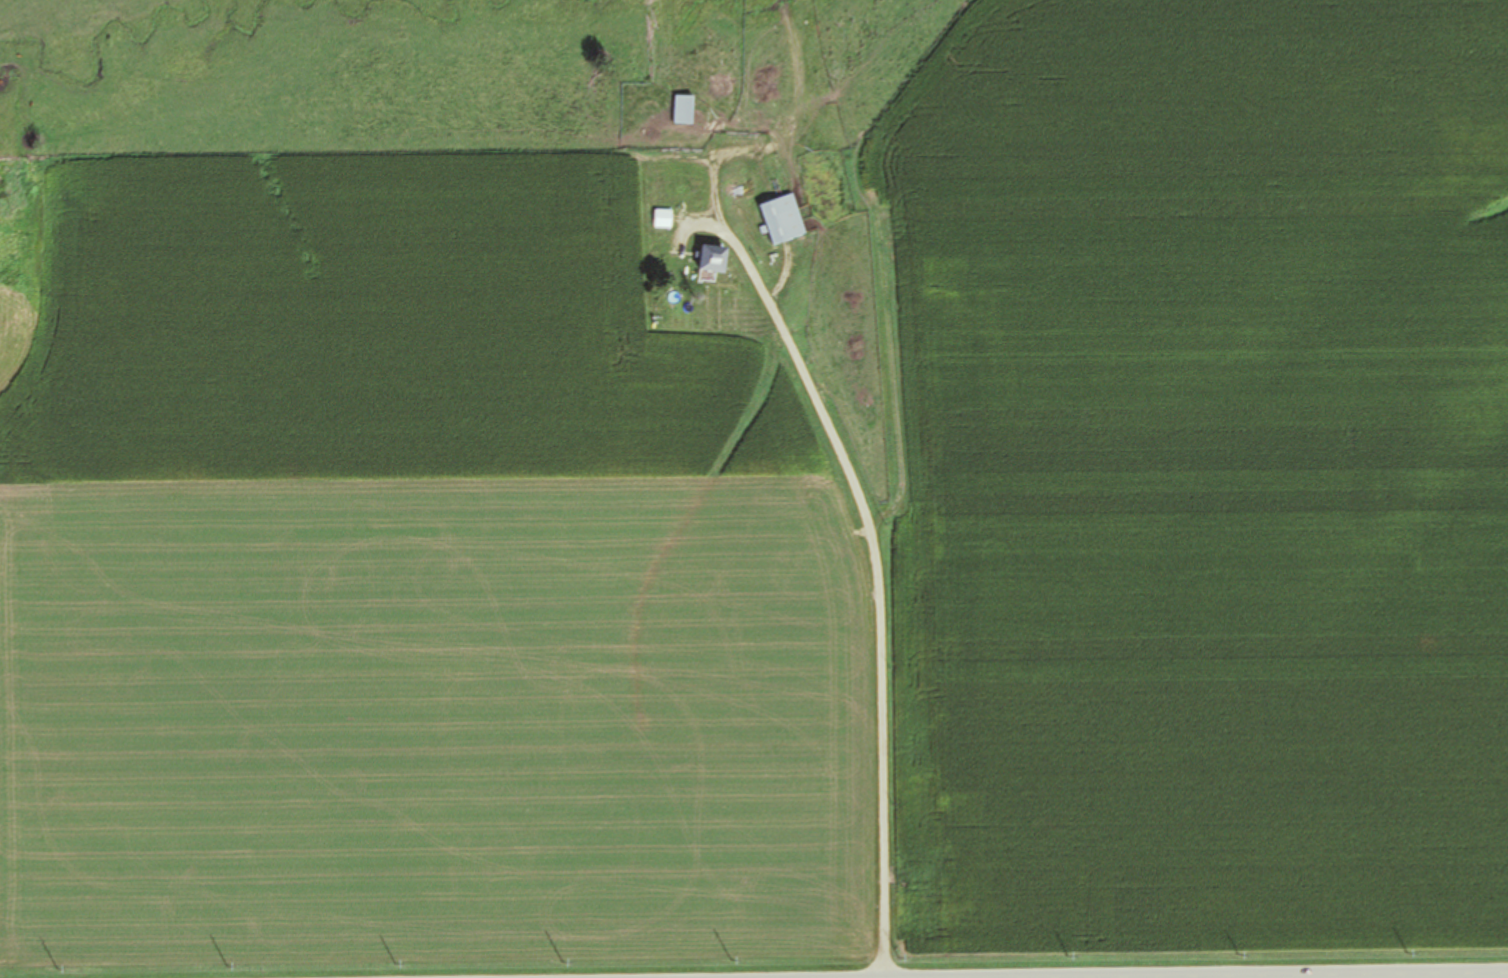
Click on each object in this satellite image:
building: (682, 109)
building: (662, 218)
building: (782, 219)
building: (710, 258)
road: (870, 615)
road: (954, 959)

